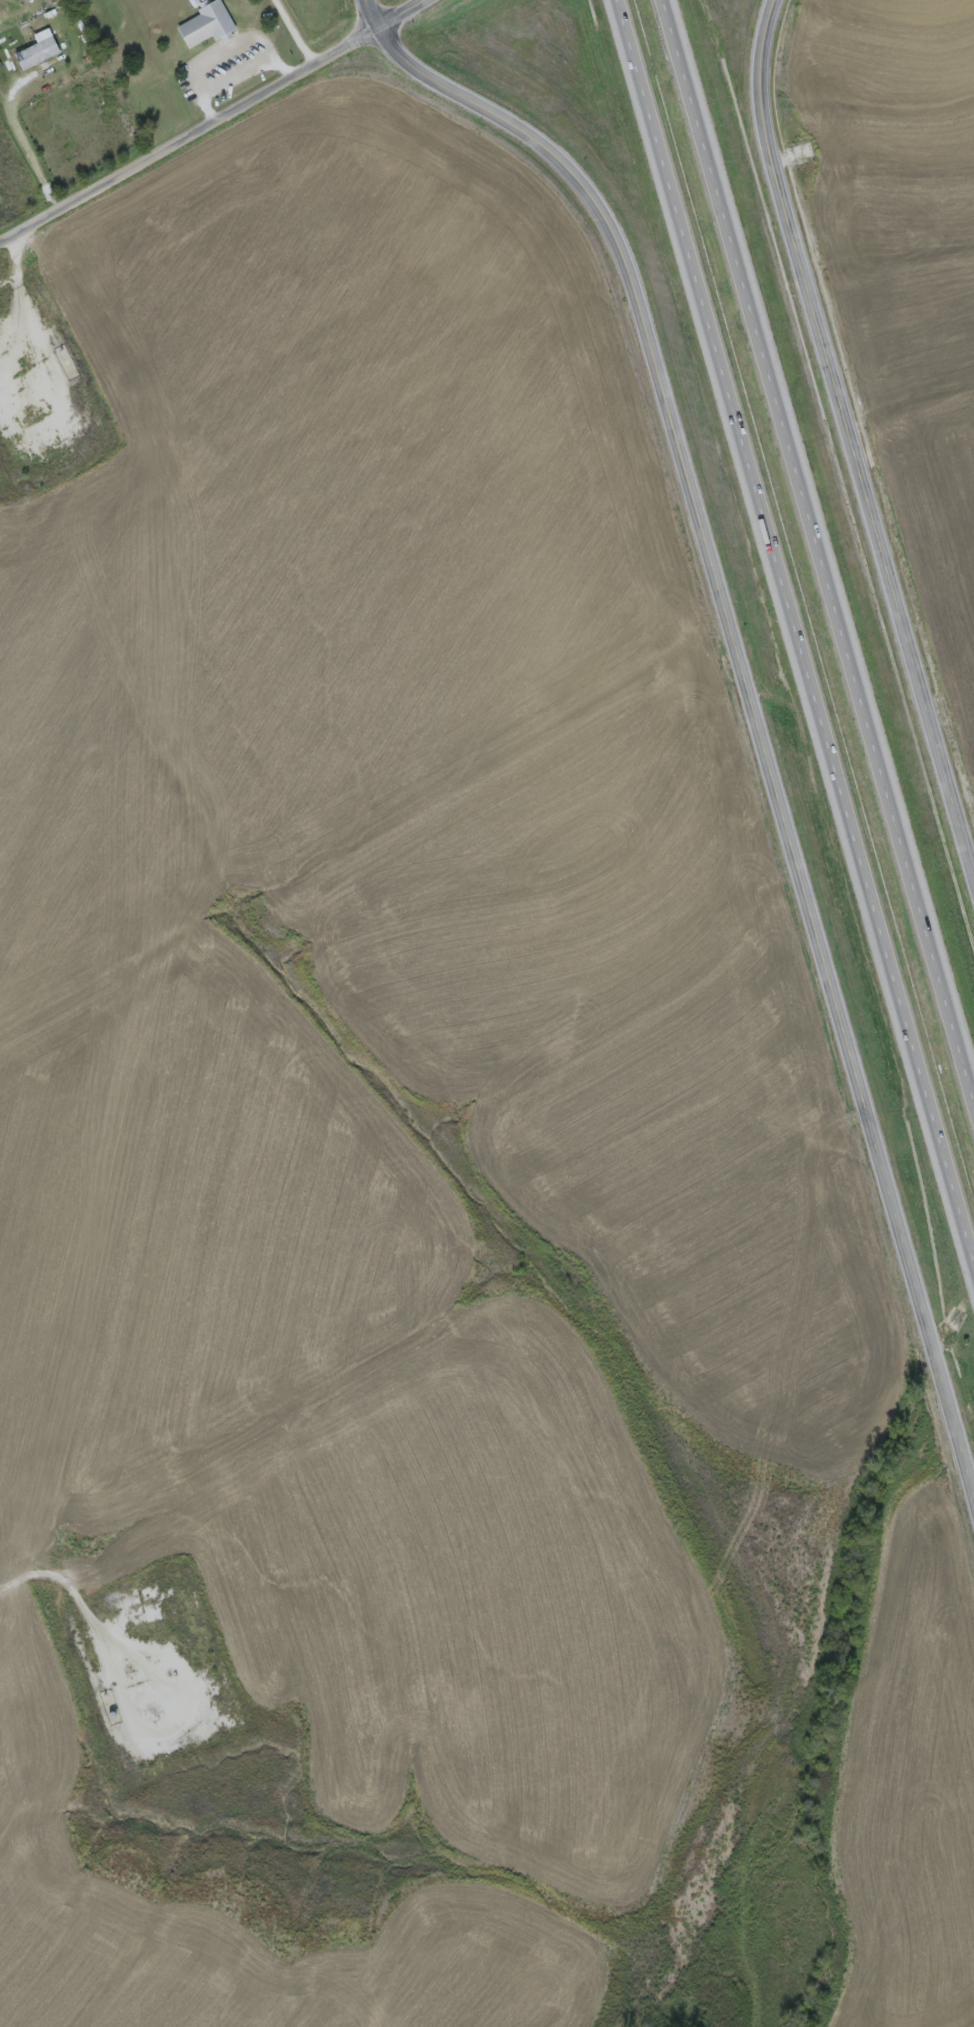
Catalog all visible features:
road: (371, 16)
road: (401, 16)
building: (209, 23)
road: (300, 32)
building: (40, 51)
road: (233, 73)
road: (20, 135)
road: (187, 139)
road: (855, 438)
road: (817, 549)
road: (795, 627)
building: (814, 703)
road: (756, 709)
building: (936, 1131)
road: (57, 1574)

